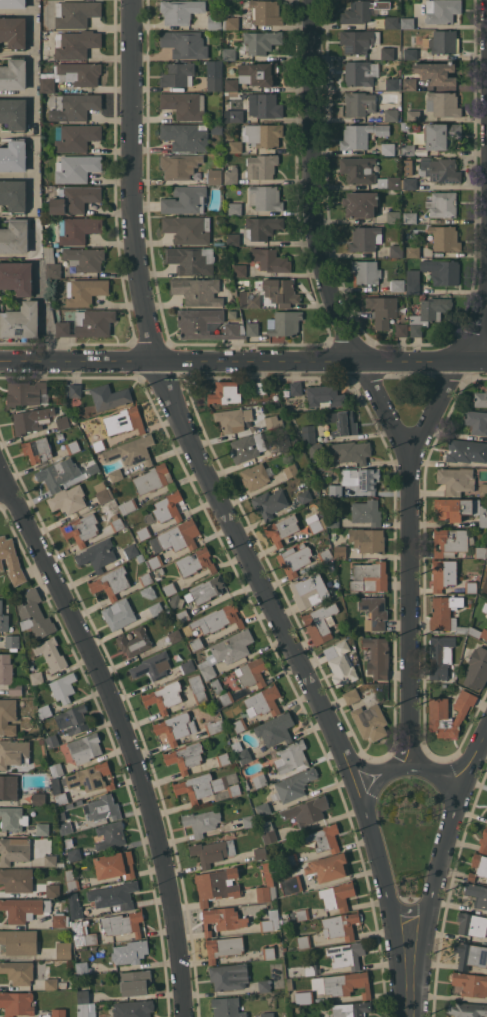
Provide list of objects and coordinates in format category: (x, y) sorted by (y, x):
building: (13, 3)
building: (180, 10)
building: (442, 10)
road: (17, 11)
building: (359, 11)
building: (265, 12)
building: (76, 13)
building: (214, 21)
building: (231, 22)
building: (391, 22)
building: (408, 22)
building: (14, 32)
building: (358, 40)
building: (442, 41)
building: (260, 42)
building: (76, 43)
building: (185, 43)
building: (229, 53)
building: (387, 53)
building: (410, 53)
building: (360, 72)
building: (437, 72)
building: (259, 73)
building: (13, 74)
building: (178, 74)
building: (71, 75)
building: (214, 80)
building: (230, 84)
building: (392, 84)
building: (409, 84)
building: (359, 103)
building: (443, 104)
building: (73, 105)
building: (184, 105)
building: (264, 105)
building: (14, 113)
building: (391, 114)
building: (234, 115)
building: (413, 115)
building: (406, 126)
building: (416, 127)
building: (216, 128)
building: (361, 134)
building: (441, 135)
building: (76, 136)
building: (186, 136)
building: (258, 136)
road: (34, 145)
building: (388, 149)
building: (408, 149)
building: (14, 155)
building: (179, 165)
building: (261, 165)
building: (76, 167)
building: (407, 167)
building: (357, 169)
building: (440, 169)
building: (231, 173)
building: (215, 176)
building: (389, 182)
building: (409, 183)
building: (13, 194)
building: (266, 197)
building: (74, 198)
building: (185, 199)
building: (360, 204)
building: (442, 204)
building: (235, 208)
building: (393, 216)
building: (410, 217)
building: (261, 227)
building: (78, 228)
building: (188, 228)
building: (14, 236)
road: (317, 237)
building: (444, 237)
building: (233, 238)
building: (365, 238)
building: (396, 250)
building: (413, 251)
building: (84, 258)
building: (191, 259)
building: (270, 259)
building: (53, 269)
building: (240, 269)
building: (366, 271)
building: (442, 271)
building: (17, 277)
building: (413, 281)
building: (398, 285)
building: (197, 290)
building: (85, 291)
building: (281, 291)
building: (249, 299)
road: (45, 312)
building: (386, 313)
building: (429, 313)
building: (20, 320)
building: (88, 323)
building: (285, 323)
building: (207, 324)
building: (252, 328)
road: (243, 363)
building: (261, 387)
building: (296, 388)
building: (225, 392)
building: (26, 393)
building: (75, 393)
building: (109, 396)
building: (325, 396)
building: (480, 398)
road: (183, 417)
building: (31, 419)
building: (233, 419)
building: (125, 420)
building: (272, 421)
building: (476, 421)
building: (63, 422)
building: (342, 422)
building: (308, 433)
building: (99, 444)
building: (285, 444)
building: (73, 446)
building: (247, 447)
building: (38, 449)
building: (315, 449)
building: (132, 450)
building: (466, 450)
building: (352, 451)
building: (92, 468)
building: (291, 470)
building: (58, 473)
building: (116, 474)
building: (256, 475)
building: (154, 478)
building: (357, 480)
building: (456, 480)
building: (483, 489)
building: (102, 492)
building: (305, 496)
building: (68, 499)
building: (269, 503)
building: (130, 505)
building: (168, 506)
building: (453, 508)
road: (409, 511)
building: (366, 512)
building: (483, 516)
building: (333, 521)
building: (116, 522)
building: (315, 525)
building: (81, 528)
building: (282, 529)
building: (144, 532)
building: (180, 535)
building: (367, 539)
building: (450, 541)
building: (131, 550)
building: (340, 551)
building: (481, 552)
building: (97, 554)
building: (325, 555)
building: (140, 557)
building: (294, 558)
building: (11, 559)
building: (155, 560)
building: (195, 561)
building: (332, 567)
building: (159, 572)
building: (443, 573)
building: (370, 576)
building: (146, 578)
building: (111, 582)
building: (471, 586)
building: (170, 588)
building: (206, 589)
building: (309, 590)
building: (148, 591)
building: (176, 601)
building: (485, 607)
building: (156, 608)
building: (375, 610)
building: (446, 613)
building: (118, 614)
building: (35, 615)
building: (183, 615)
building: (3, 618)
building: (219, 618)
building: (320, 622)
building: (478, 632)
building: (175, 635)
building: (12, 641)
building: (134, 641)
building: (196, 643)
building: (226, 651)
building: (466, 652)
building: (51, 653)
building: (440, 656)
building: (377, 657)
building: (340, 663)
building: (152, 665)
building: (187, 666)
building: (477, 668)
building: (252, 672)
building: (8, 674)
building: (454, 675)
building: (37, 677)
building: (217, 685)
building: (63, 687)
building: (197, 688)
building: (351, 695)
building: (164, 696)
building: (225, 697)
building: (263, 701)
building: (44, 710)
building: (438, 713)
building: (7, 715)
building: (73, 718)
building: (370, 721)
building: (239, 724)
building: (176, 726)
building: (215, 726)
building: (275, 728)
building: (52, 740)
road: (125, 740)
road: (481, 741)
building: (85, 747)
building: (14, 752)
building: (242, 752)
building: (185, 756)
building: (292, 756)
road: (411, 756)
building: (224, 758)
road: (399, 758)
road: (363, 767)
road: (458, 768)
building: (57, 769)
road: (413, 770)
building: (91, 777)
building: (232, 777)
building: (260, 780)
building: (294, 785)
building: (200, 786)
building: (9, 787)
building: (58, 791)
building: (228, 791)
building: (39, 797)
building: (51, 800)
building: (102, 807)
building: (263, 808)
building: (307, 810)
building: (486, 816)
building: (12, 818)
building: (249, 820)
building: (202, 821)
building: (66, 827)
building: (42, 828)
building: (268, 832)
building: (110, 834)
building: (323, 838)
building: (483, 841)
building: (14, 849)
building: (212, 851)
building: (260, 852)
building: (74, 854)
building: (291, 858)
road: (440, 859)
building: (51, 860)
building: (115, 864)
building: (478, 865)
building: (329, 867)
building: (17, 879)
building: (71, 880)
building: (294, 883)
building: (266, 884)
building: (217, 885)
road: (385, 885)
building: (53, 890)
building: (477, 894)
building: (114, 895)
building: (337, 895)
building: (75, 906)
building: (24, 908)
road: (408, 909)
building: (302, 914)
building: (60, 919)
building: (222, 919)
building: (270, 921)
building: (123, 923)
building: (472, 924)
building: (341, 925)
building: (83, 933)
building: (19, 941)
building: (304, 941)
building: (84, 947)
building: (224, 947)
building: (78, 948)
building: (64, 949)
building: (130, 951)
building: (269, 952)
building: (346, 954)
building: (470, 955)
building: (63, 968)
building: (82, 968)
building: (310, 969)
building: (18, 971)
building: (229, 976)
building: (137, 982)
building: (51, 983)
building: (290, 983)
building: (342, 983)
building: (470, 983)
building: (264, 985)
building: (83, 989)
road: (407, 992)
building: (304, 997)
building: (18, 1003)
building: (227, 1007)
building: (133, 1008)
building: (86, 1009)
building: (350, 1009)
building: (467, 1009)
building: (59, 1012)
building: (267, 1014)

